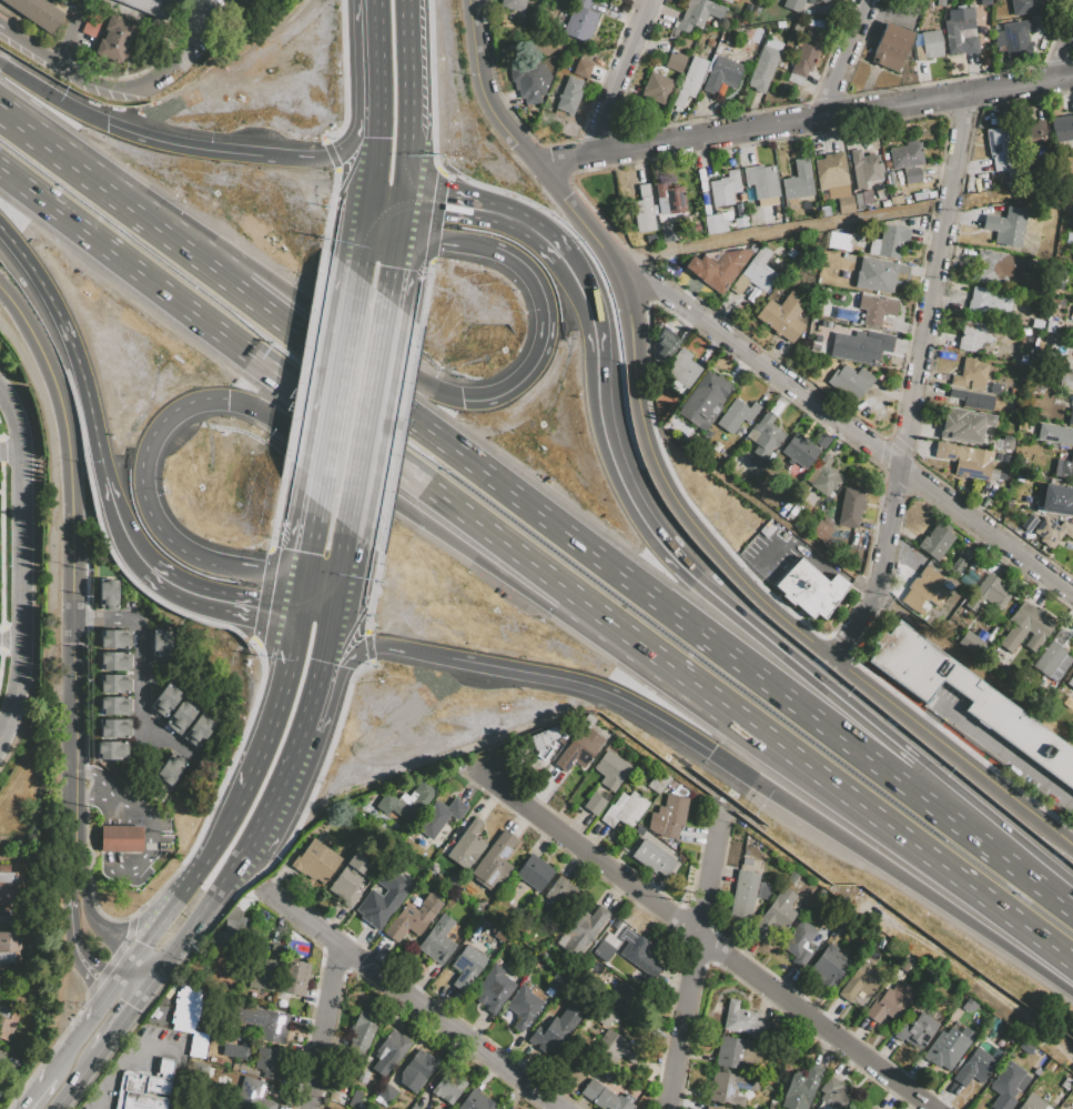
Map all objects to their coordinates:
building: (727, 1)
building: (821, 1)
building: (513, 3)
building: (793, 6)
building: (152, 7)
building: (1025, 7)
building: (38, 12)
building: (697, 14)
building: (580, 20)
building: (95, 24)
building: (960, 31)
building: (1016, 33)
road: (72, 36)
building: (117, 41)
building: (710, 42)
building: (929, 46)
building: (890, 47)
road: (189, 52)
building: (806, 56)
road: (1062, 57)
road: (376, 58)
road: (843, 59)
building: (676, 62)
building: (581, 69)
building: (763, 69)
road: (346, 73)
building: (722, 75)
road: (67, 78)
road: (619, 78)
building: (690, 80)
building: (530, 82)
road: (429, 88)
building: (657, 88)
road: (50, 99)
building: (568, 99)
road: (411, 101)
road: (804, 122)
traffic signals: (105, 124)
building: (1062, 129)
building: (1032, 134)
road: (513, 137)
road: (351, 144)
road: (182, 147)
building: (1001, 147)
road: (331, 154)
building: (905, 155)
road: (290, 158)
road: (373, 159)
building: (864, 168)
building: (831, 171)
building: (912, 175)
building: (762, 181)
building: (799, 181)
road: (102, 185)
building: (725, 189)
building: (923, 194)
building: (866, 196)
building: (670, 199)
traffic signals: (367, 201)
road: (384, 201)
building: (858, 201)
traffic signals: (401, 202)
building: (846, 204)
road: (328, 209)
building: (644, 210)
building: (826, 211)
road: (485, 213)
road: (397, 220)
road: (434, 220)
building: (740, 222)
building: (717, 223)
building: (1006, 226)
building: (669, 232)
road: (782, 232)
road: (360, 235)
building: (1069, 238)
traffic signals: (395, 239)
road: (442, 240)
building: (883, 241)
building: (840, 242)
building: (790, 254)
building: (996, 266)
road: (389, 268)
building: (719, 268)
building: (760, 269)
road: (574, 274)
building: (875, 275)
road: (422, 295)
building: (988, 302)
building: (875, 309)
building: (846, 314)
building: (783, 316)
road: (335, 326)
road: (546, 336)
building: (974, 336)
building: (666, 344)
road: (71, 345)
building: (860, 345)
road: (302, 362)
building: (682, 369)
building: (971, 374)
building: (1065, 381)
building: (850, 382)
road: (333, 385)
road: (912, 385)
building: (972, 399)
building: (706, 400)
traffic signals: (462, 401)
traffic signals: (229, 402)
road: (312, 404)
road: (366, 413)
building: (737, 415)
building: (1070, 419)
road: (838, 421)
building: (964, 424)
building: (1055, 433)
road: (396, 436)
building: (765, 436)
building: (800, 451)
road: (11, 455)
building: (971, 462)
building: (1066, 468)
building: (822, 476)
road: (142, 481)
building: (1057, 500)
building: (850, 507)
building: (792, 513)
road: (276, 514)
road: (424, 522)
building: (1030, 522)
road: (119, 526)
building: (821, 528)
building: (1052, 532)
road: (307, 540)
building: (935, 541)
road: (594, 547)
road: (807, 550)
road: (22, 563)
road: (74, 565)
building: (956, 566)
road: (266, 571)
road: (341, 572)
building: (971, 575)
traffic signals: (302, 578)
building: (929, 586)
building: (810, 588)
road: (370, 592)
building: (991, 593)
building: (109, 594)
road: (263, 596)
road: (298, 596)
road: (762, 598)
road: (721, 601)
road: (217, 602)
traffic signals: (296, 614)
road: (315, 615)
traffic signals: (334, 617)
building: (1026, 628)
building: (113, 639)
building: (161, 646)
road: (378, 646)
road: (367, 647)
road: (326, 651)
road: (139, 659)
building: (1052, 659)
building: (115, 661)
road: (677, 673)
building: (1070, 682)
building: (115, 683)
road: (587, 686)
building: (969, 697)
building: (166, 699)
building: (114, 706)
road: (274, 706)
parking lot: (942, 706)
road: (311, 708)
building: (181, 717)
road: (931, 717)
building: (114, 728)
building: (199, 730)
building: (541, 737)
building: (581, 745)
building: (110, 750)
road: (1006, 753)
traffic signals: (710, 754)
building: (171, 769)
building: (611, 769)
road: (80, 776)
building: (658, 783)
road: (102, 787)
road: (219, 790)
road: (275, 797)
building: (408, 799)
road: (79, 801)
building: (595, 805)
building: (625, 809)
building: (439, 817)
building: (668, 817)
road: (902, 835)
building: (121, 838)
building: (467, 846)
parking lot: (161, 848)
road: (149, 853)
building: (652, 858)
building: (494, 860)
building: (316, 861)
building: (746, 861)
road: (109, 867)
road: (1028, 869)
road: (892, 873)
building: (535, 874)
road: (72, 877)
building: (789, 877)
building: (350, 878)
building: (402, 880)
building: (8, 883)
road: (80, 883)
road: (194, 883)
building: (381, 887)
road: (242, 894)
building: (563, 894)
building: (746, 894)
building: (382, 905)
road: (11, 916)
building: (413, 918)
road: (199, 920)
building: (773, 920)
road: (128, 930)
building: (232, 931)
building: (585, 932)
road: (104, 937)
building: (437, 940)
road: (709, 942)
building: (798, 945)
road: (80, 946)
building: (9, 948)
building: (274, 951)
road: (694, 954)
building: (640, 955)
road: (112, 965)
traffic signals: (134, 965)
building: (466, 967)
building: (829, 967)
building: (904, 968)
road: (144, 972)
road: (126, 974)
building: (263, 975)
building: (294, 978)
traffic signals: (155, 980)
traffic signals: (120, 984)
building: (556, 984)
building: (859, 984)
road: (148, 989)
road: (130, 991)
building: (490, 992)
traffic signals: (141, 999)
road: (411, 1000)
building: (627, 1001)
building: (891, 1002)
building: (968, 1006)
building: (523, 1007)
building: (184, 1009)
building: (604, 1015)
building: (7, 1021)
building: (743, 1021)
building: (262, 1024)
road: (120, 1026)
road: (85, 1027)
road: (324, 1027)
building: (556, 1029)
building: (917, 1030)
building: (361, 1035)
building: (198, 1045)
building: (947, 1046)
building: (1025, 1047)
building: (615, 1048)
building: (236, 1050)
building: (391, 1052)
building: (738, 1052)
road: (124, 1056)
road: (9, 1059)
building: (269, 1061)
parking lot: (133, 1062)
building: (974, 1068)
building: (417, 1070)
road: (173, 1080)
road: (80, 1081)
building: (1066, 1083)
building: (448, 1086)
building: (1008, 1086)
building: (730, 1087)
building: (144, 1088)
building: (801, 1088)
road: (39, 1090)
building: (385, 1093)
building: (252, 1095)
building: (836, 1095)
building: (605, 1097)
building: (476, 1101)
building: (1032, 1103)
building: (499, 1108)
building: (711, 1108)
building: (871, 1108)
building: (873, 1108)
building: (1059, 1108)

